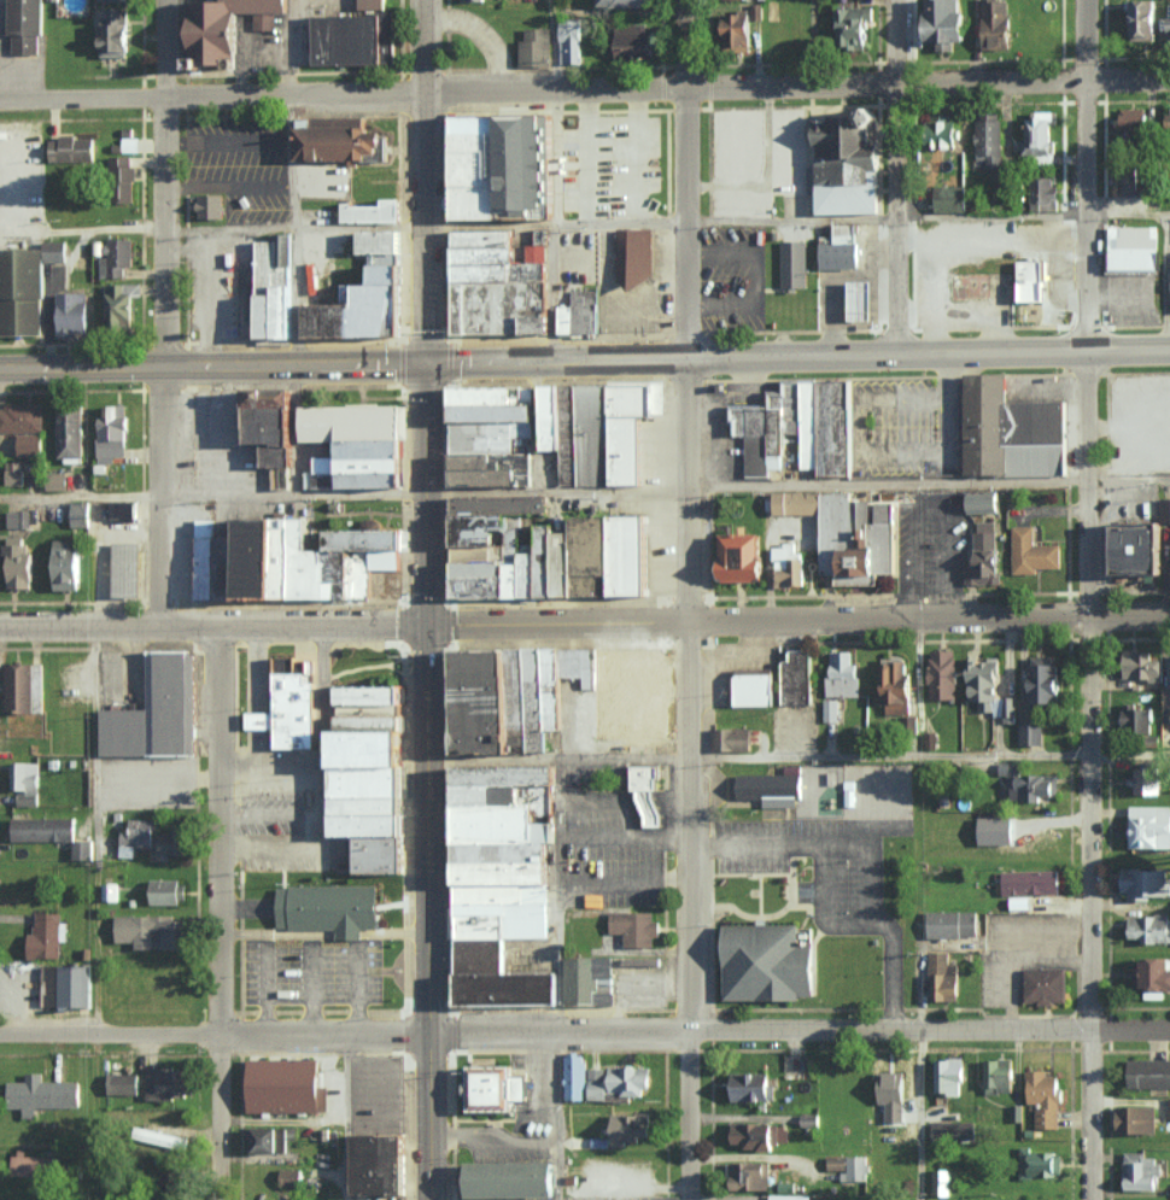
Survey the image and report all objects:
building: (52, 0)
building: (109, 0)
building: (373, 4)
building: (1142, 21)
building: (947, 23)
building: (996, 23)
building: (853, 25)
building: (25, 27)
building: (228, 28)
building: (742, 28)
building: (1168, 29)
building: (115, 33)
building: (356, 40)
building: (569, 41)
building: (634, 42)
building: (536, 47)
road: (796, 84)
road: (211, 93)
building: (1133, 123)
building: (480, 125)
building: (1169, 125)
building: (944, 131)
building: (1037, 134)
building: (341, 141)
building: (989, 141)
building: (480, 142)
building: (130, 144)
building: (71, 150)
road: (587, 153)
road: (636, 153)
road: (293, 158)
parking lot: (759, 158)
building: (848, 160)
parking lot: (241, 165)
parking lot: (613, 165)
building: (530, 166)
building: (480, 168)
road: (901, 175)
building: (123, 178)
parking lot: (323, 181)
road: (423, 182)
building: (1124, 182)
building: (1043, 194)
building: (950, 199)
building: (480, 203)
building: (1145, 203)
building: (212, 206)
building: (374, 213)
road: (665, 221)
road: (80, 228)
parking lot: (1028, 228)
building: (487, 239)
building: (382, 242)
building: (1137, 248)
building: (843, 250)
gas station: (843, 250)
building: (487, 254)
building: (636, 257)
building: (116, 258)
building: (386, 259)
parking lot: (1065, 262)
building: (796, 265)
road: (1051, 265)
building: (501, 273)
building: (391, 274)
parking lot: (733, 279)
building: (1032, 279)
building: (279, 287)
building: (22, 293)
road: (299, 295)
parking lot: (215, 298)
parking lot: (1133, 299)
building: (865, 300)
building: (119, 304)
road: (1084, 308)
building: (504, 309)
road: (690, 309)
building: (583, 311)
road: (158, 312)
building: (362, 312)
building: (72, 314)
road: (975, 350)
road: (603, 359)
road: (277, 365)
traffic signals: (426, 365)
road: (65, 367)
building: (496, 396)
building: (636, 398)
building: (795, 408)
building: (497, 414)
building: (21, 417)
building: (551, 418)
parking lot: (723, 421)
building: (355, 422)
parking lot: (1141, 423)
building: (779, 425)
building: (812, 425)
building: (989, 426)
building: (274, 428)
building: (837, 428)
building: (493, 429)
parking lot: (902, 431)
building: (70, 433)
building: (112, 434)
building: (595, 435)
building: (569, 437)
building: (755, 437)
building: (1040, 439)
building: (30, 445)
parking lot: (216, 445)
building: (486, 445)
building: (374, 450)
building: (630, 451)
road: (867, 452)
building: (496, 462)
building: (375, 467)
building: (13, 473)
building: (496, 479)
building: (55, 481)
building: (375, 481)
road: (929, 484)
road: (77, 494)
building: (983, 502)
building: (797, 503)
building: (502, 505)
building: (338, 507)
building: (1164, 510)
building: (125, 511)
road: (932, 511)
building: (81, 514)
building: (18, 519)
building: (206, 528)
building: (485, 528)
building: (369, 540)
building: (854, 542)
parking lot: (934, 542)
parking lot: (704, 543)
building: (1141, 550)
building: (482, 552)
building: (1032, 552)
building: (633, 555)
building: (985, 555)
building: (597, 556)
parking lot: (187, 558)
building: (259, 558)
building: (287, 558)
building: (744, 558)
building: (387, 560)
building: (552, 561)
building: (18, 563)
building: (68, 564)
building: (310, 564)
building: (571, 564)
building: (789, 566)
building: (206, 568)
building: (228, 568)
building: (127, 569)
building: (481, 569)
building: (341, 574)
building: (364, 574)
building: (536, 575)
building: (519, 579)
building: (485, 587)
parking lot: (561, 611)
road: (796, 616)
road: (211, 625)
parking lot: (557, 634)
road: (258, 636)
building: (1142, 665)
building: (583, 666)
building: (943, 673)
building: (842, 674)
building: (797, 677)
building: (1045, 678)
building: (985, 685)
building: (19, 686)
parking lot: (724, 687)
building: (754, 687)
building: (896, 687)
building: (555, 689)
building: (609, 693)
building: (372, 695)
building: (645, 695)
building: (521, 701)
building: (538, 701)
building: (485, 702)
building: (175, 704)
building: (292, 704)
road: (252, 707)
road: (263, 707)
road: (269, 707)
road: (257, 708)
building: (830, 709)
building: (370, 710)
building: (1136, 718)
building: (372, 724)
building: (1031, 732)
building: (127, 733)
road: (323, 734)
building: (731, 738)
building: (369, 748)
parking lot: (294, 755)
road: (929, 755)
road: (557, 759)
road: (271, 768)
building: (508, 775)
building: (25, 782)
building: (369, 782)
building: (1028, 782)
road: (426, 783)
building: (771, 786)
building: (650, 794)
building: (849, 794)
building: (490, 795)
building: (369, 806)
road: (271, 815)
parking lot: (275, 823)
building: (503, 824)
building: (369, 825)
building: (1149, 826)
building: (42, 827)
building: (138, 833)
road: (626, 836)
building: (172, 842)
road: (271, 845)
building: (82, 849)
road: (873, 851)
building: (504, 853)
building: (380, 854)
parking lot: (612, 862)
parking lot: (753, 866)
building: (504, 874)
road: (626, 880)
building: (1030, 880)
building: (1145, 883)
building: (168, 890)
building: (505, 894)
road: (561, 895)
building: (1019, 902)
building: (332, 908)
road: (1093, 908)
road: (691, 909)
road: (823, 909)
road: (218, 912)
building: (507, 921)
building: (952, 923)
building: (1149, 927)
building: (637, 929)
building: (150, 930)
building: (45, 936)
building: (484, 955)
building: (768, 962)
parking lot: (314, 971)
building: (43, 972)
building: (1153, 976)
building: (943, 977)
building: (587, 978)
building: (74, 985)
building: (1047, 987)
building: (510, 989)
road: (314, 991)
road: (358, 991)
road: (267, 993)
road: (797, 1031)
road: (212, 1034)
building: (1148, 1072)
building: (575, 1076)
building: (949, 1076)
building: (999, 1076)
building: (618, 1081)
building: (166, 1082)
building: (123, 1083)
building: (750, 1085)
building: (286, 1087)
building: (497, 1088)
building: (41, 1093)
building: (891, 1096)
building: (1045, 1097)
building: (1169, 1110)
road: (560, 1116)
road: (920, 1116)
road: (344, 1117)
building: (1135, 1118)
building: (809, 1119)
building: (630, 1128)
building: (954, 1130)
building: (754, 1134)
building: (160, 1137)
building: (269, 1138)
building: (1039, 1163)
building: (30, 1164)
building: (381, 1164)
building: (847, 1166)
building: (1140, 1171)
building: (749, 1175)
building: (289, 1176)
building: (513, 1179)
building: (941, 1181)
building: (790, 1196)
parking lot: (615, 1198)
parking lot: (504, 1199)

